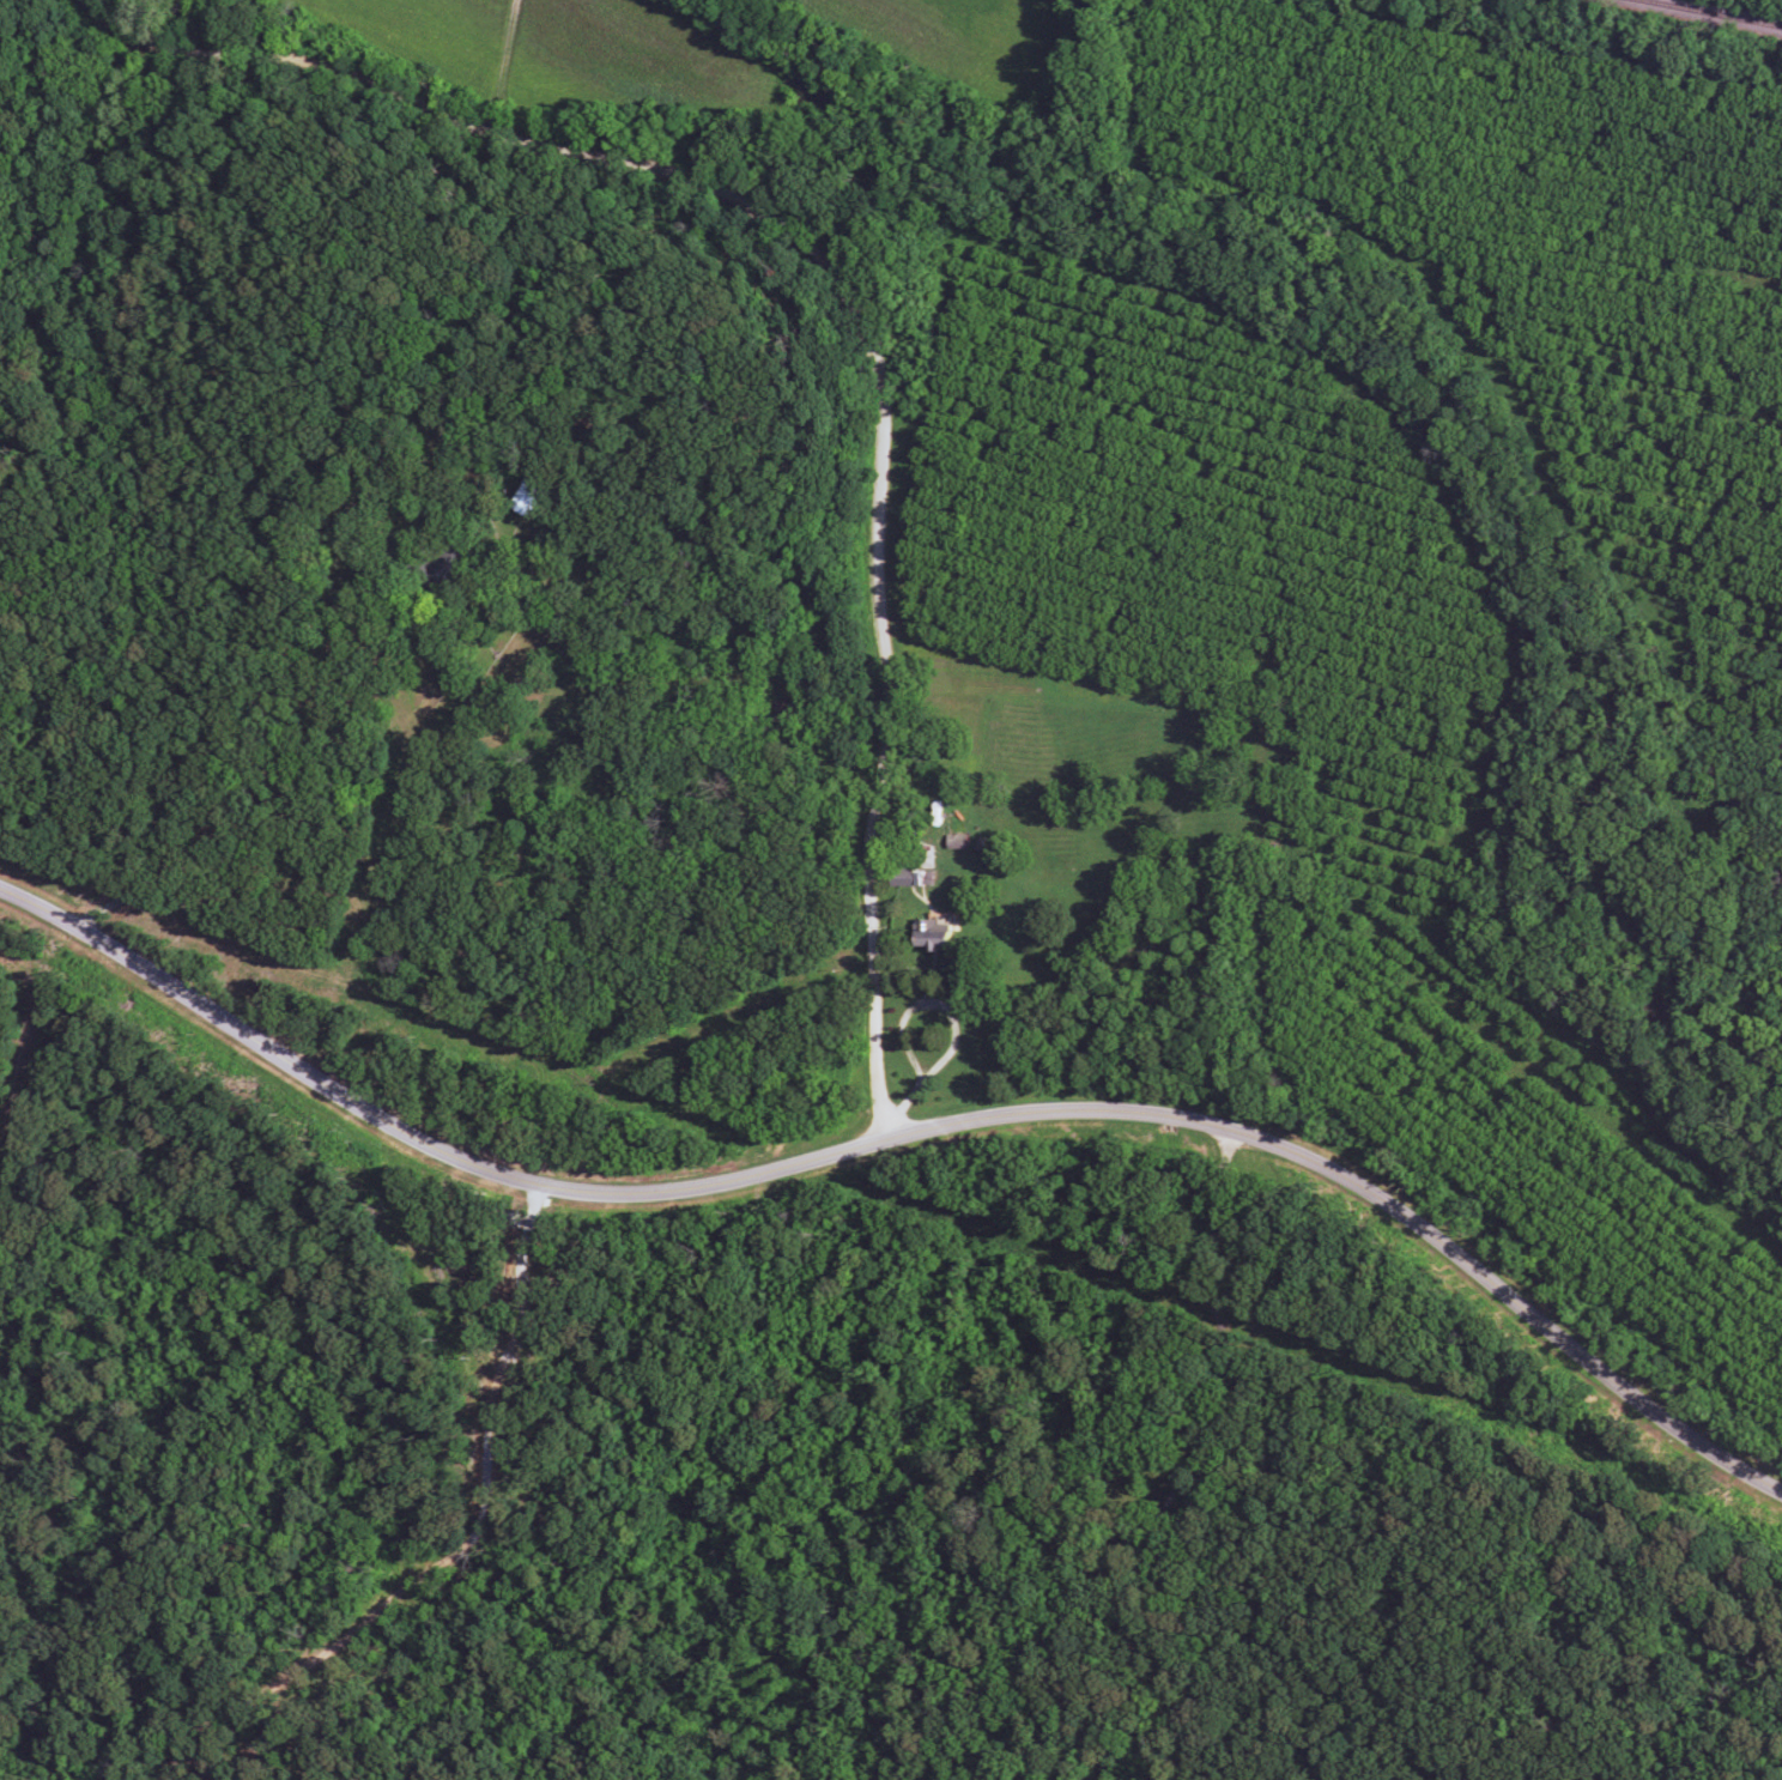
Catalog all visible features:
railway: (1754, 5)
road: (849, 303)
road: (250, 734)
building: (899, 871)
building: (931, 930)
road: (903, 1134)
road: (1183, 1463)
road: (456, 1548)

